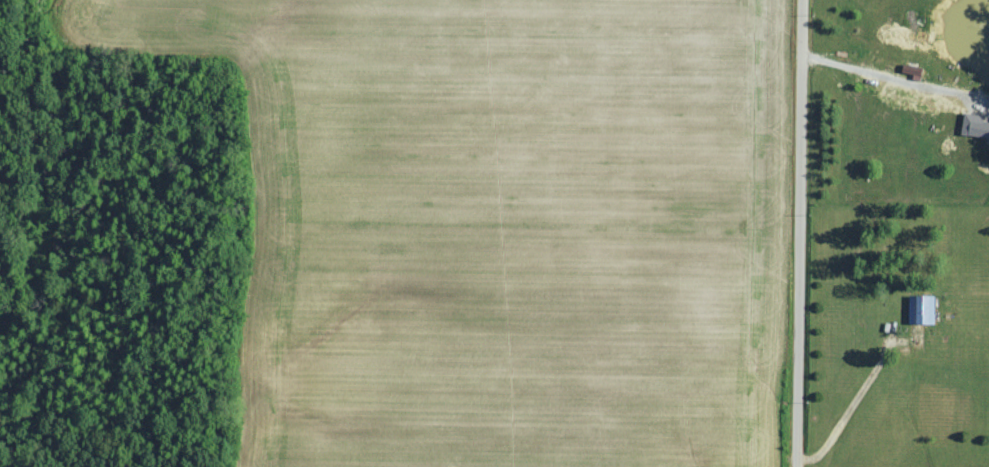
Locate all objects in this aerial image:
building: (976, 125)
road: (798, 233)
building: (924, 308)

